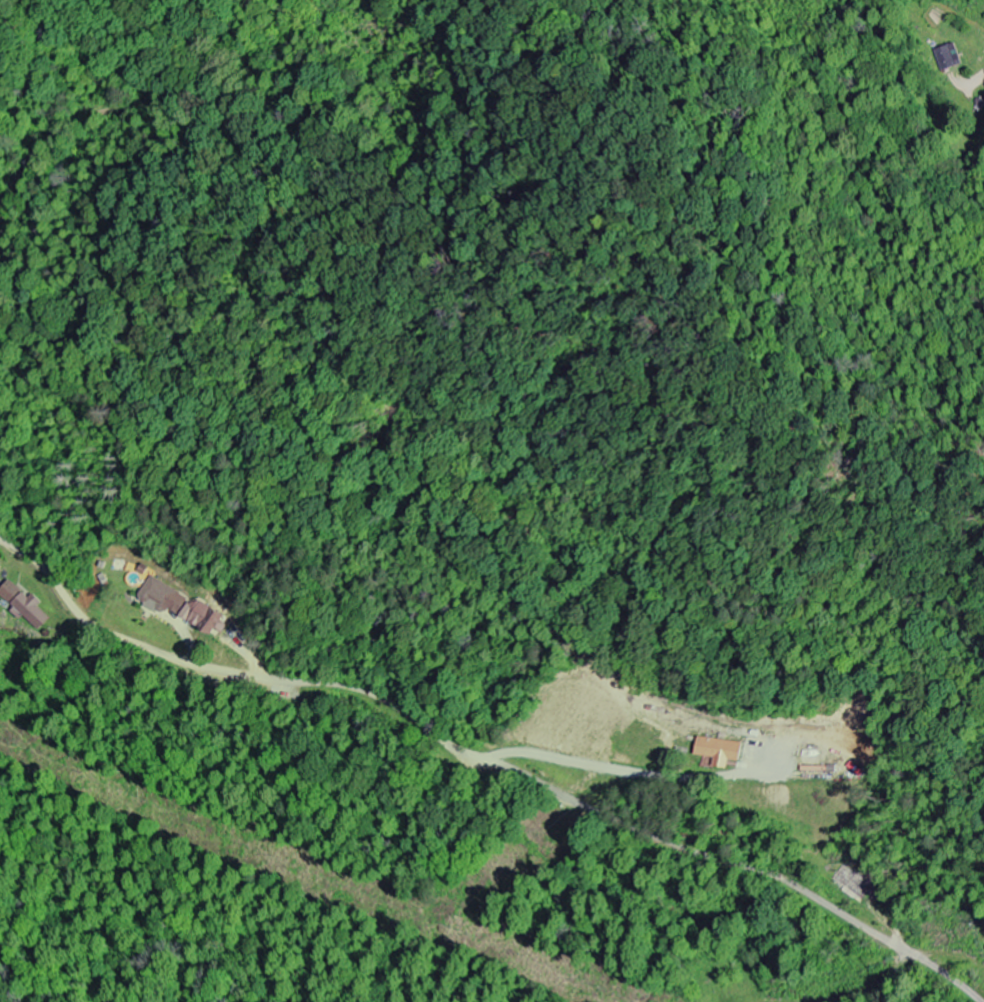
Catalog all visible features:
building: (950, 57)
road: (982, 76)
building: (27, 605)
building: (182, 606)
building: (723, 752)
road: (487, 759)
building: (853, 885)

